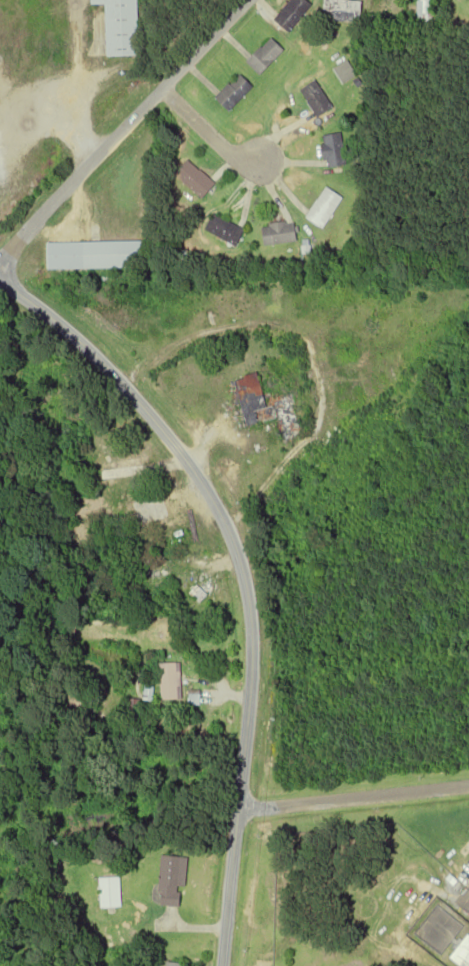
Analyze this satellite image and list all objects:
building: (343, 11)
building: (425, 11)
building: (292, 13)
building: (122, 27)
building: (265, 55)
building: (345, 72)
building: (235, 91)
building: (317, 98)
road: (208, 130)
road: (122, 131)
building: (334, 149)
building: (195, 178)
building: (325, 206)
building: (225, 229)
building: (280, 232)
building: (94, 254)
road: (310, 348)
building: (267, 406)
building: (122, 469)
building: (152, 514)
building: (157, 577)
road: (238, 577)
building: (196, 593)
building: (168, 681)
road: (351, 798)
building: (173, 881)
building: (110, 892)
building: (463, 955)
building: (175, 964)

